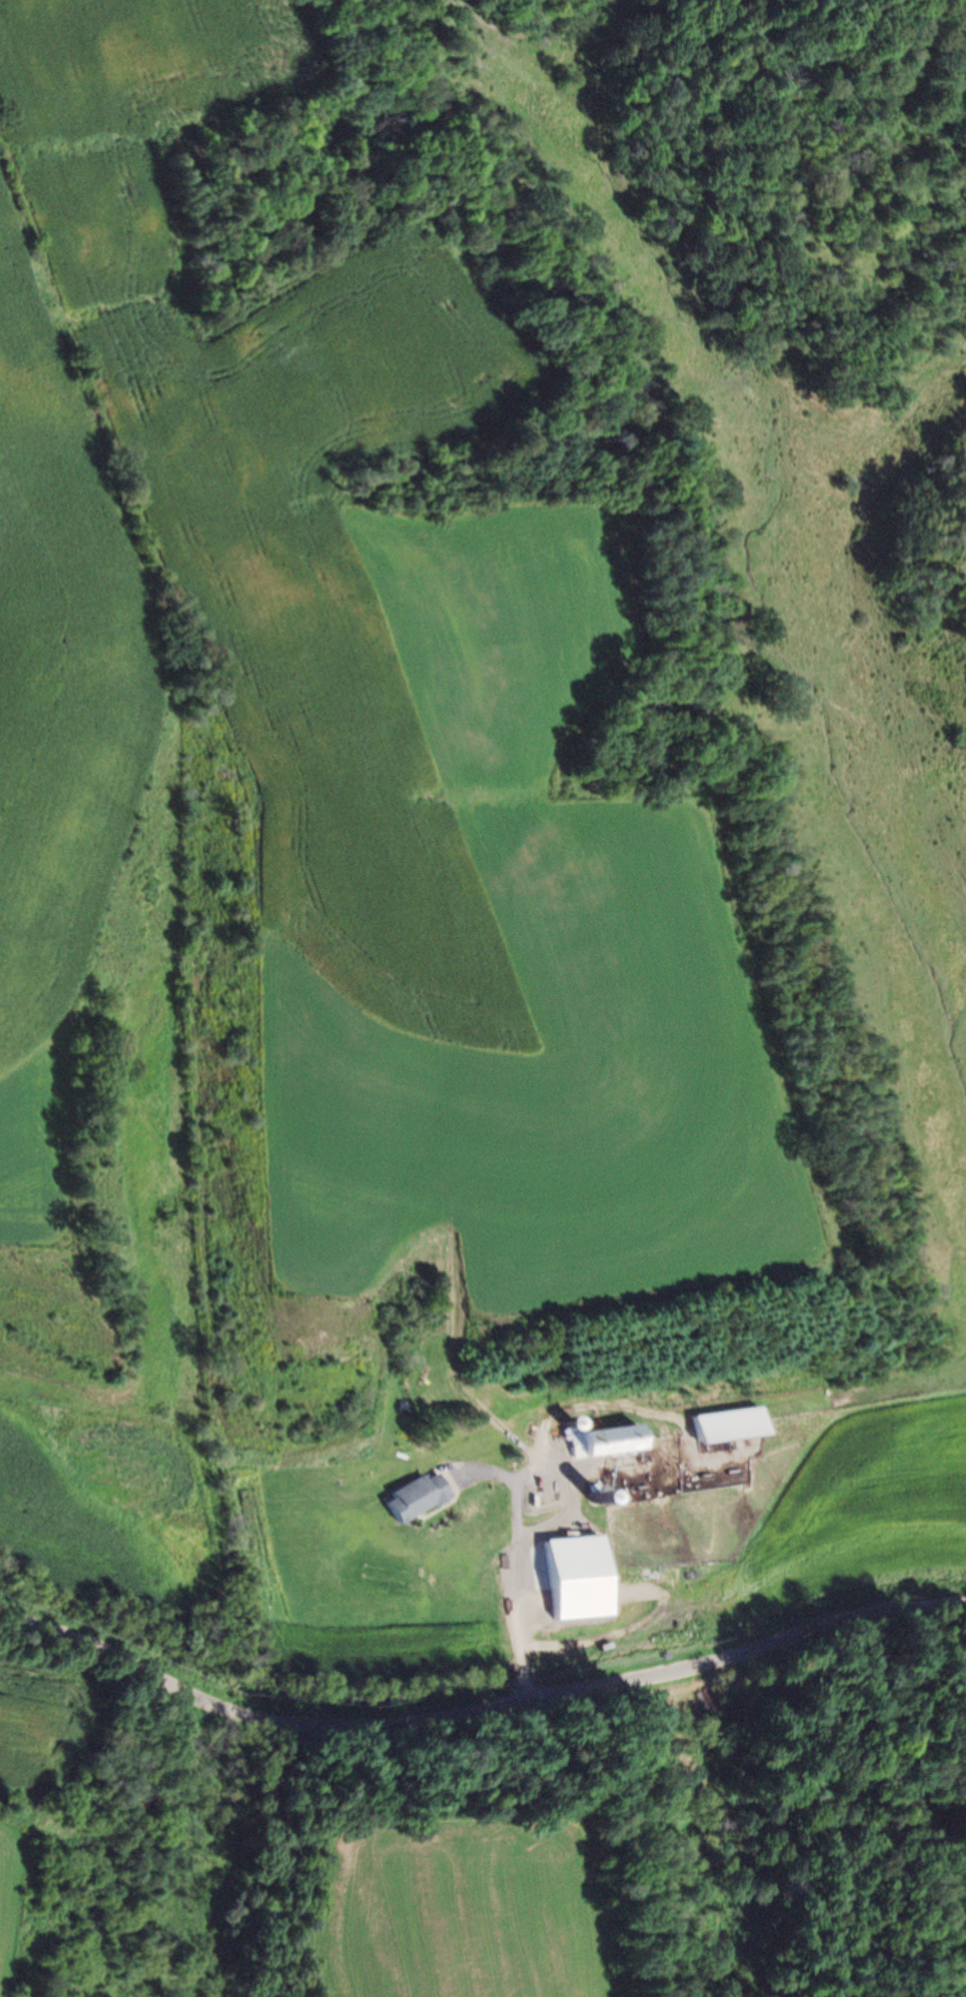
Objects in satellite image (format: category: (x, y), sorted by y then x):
building: (728, 1425)
building: (606, 1440)
building: (414, 1497)
building: (580, 1577)
road: (477, 1711)

